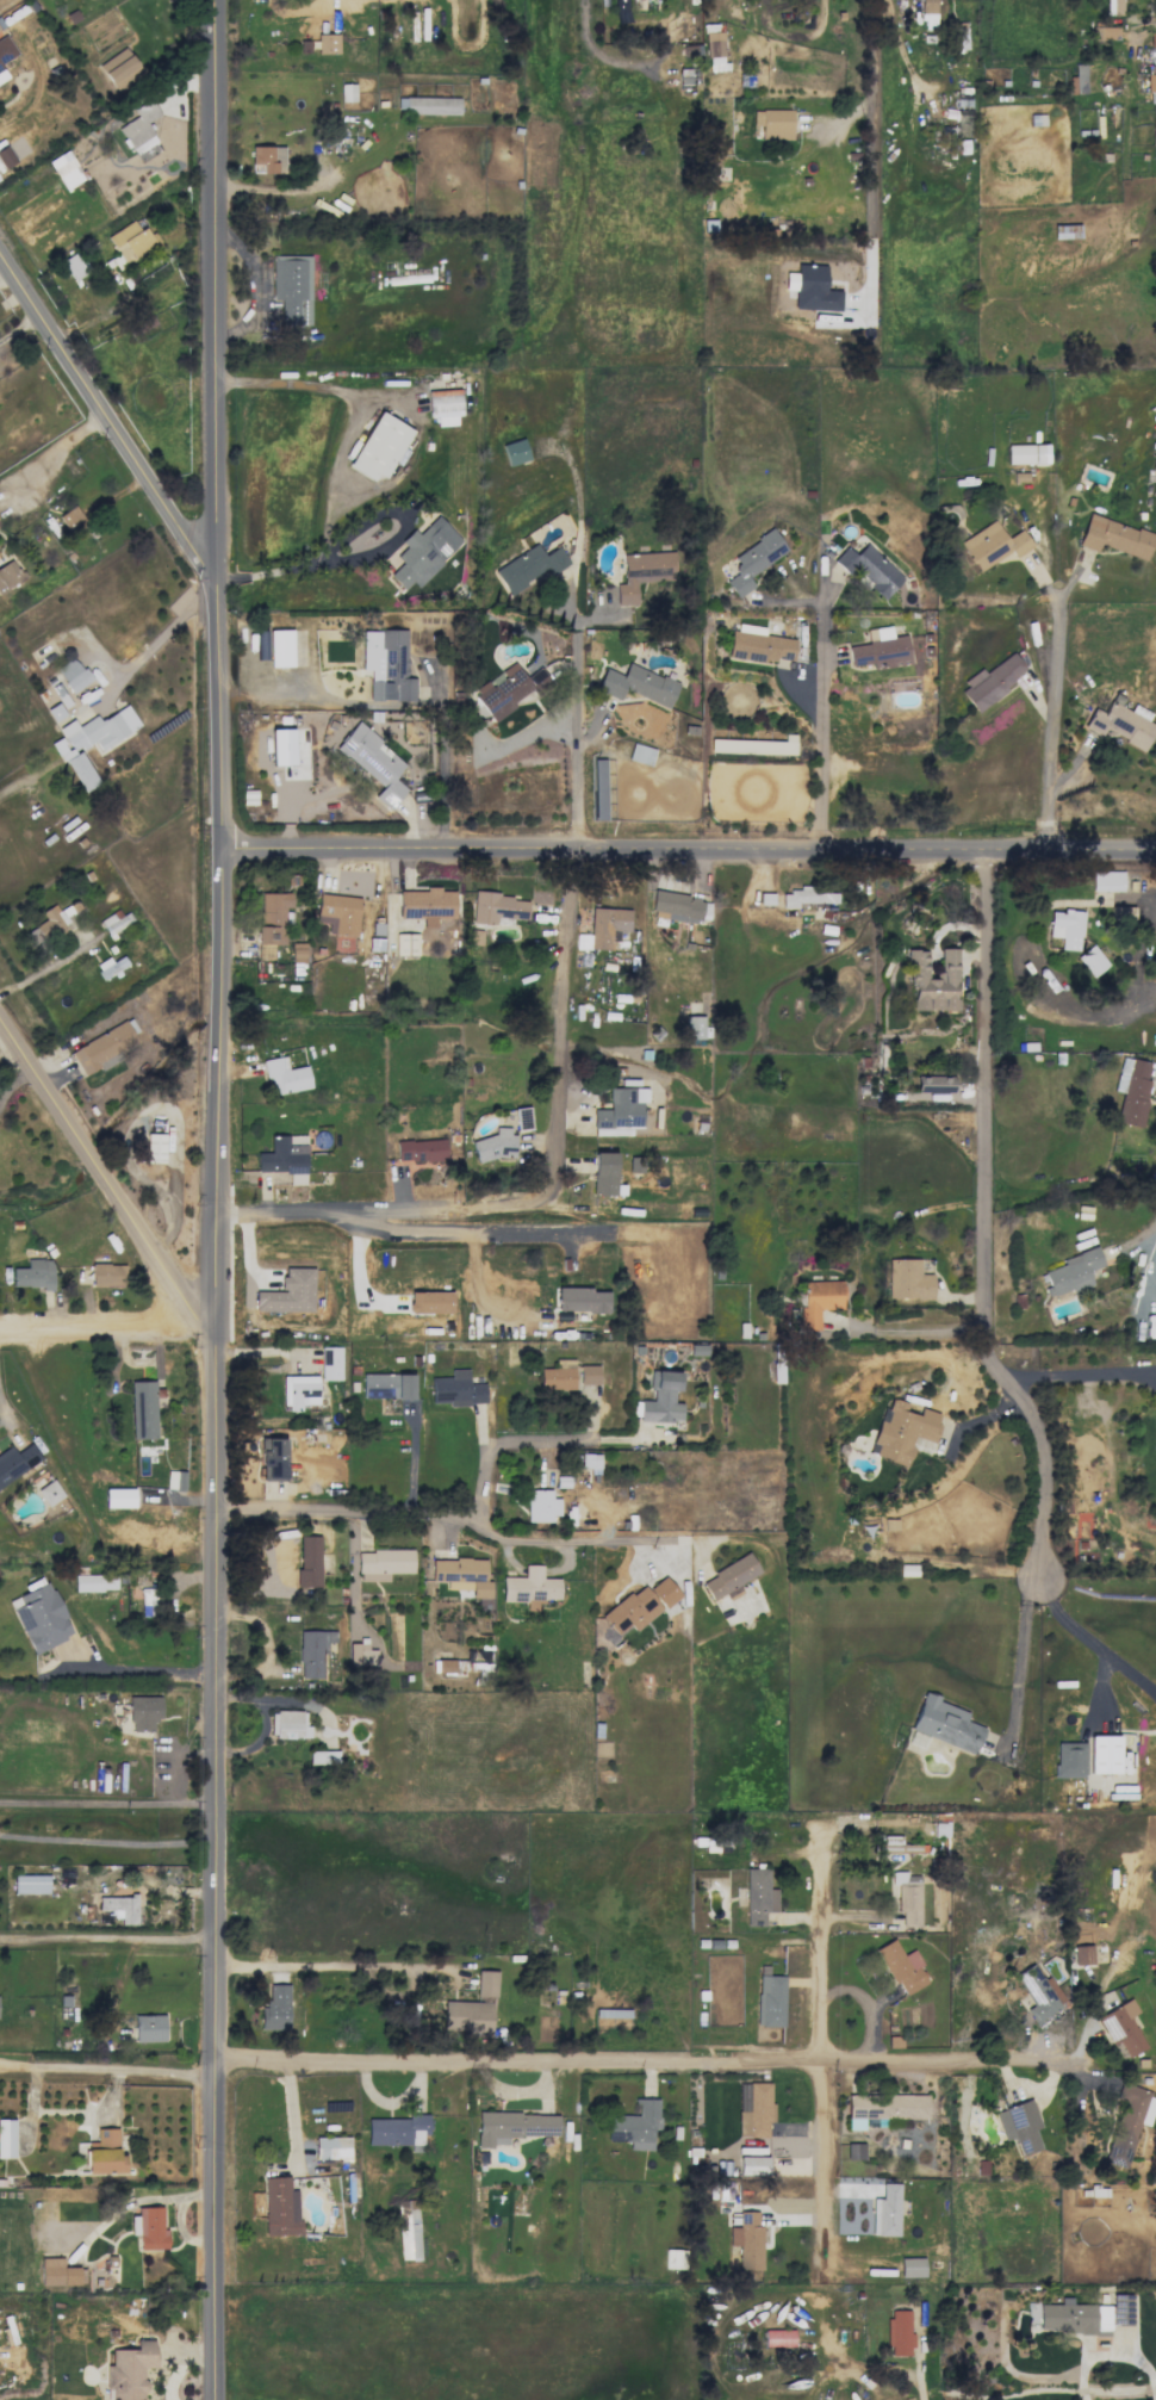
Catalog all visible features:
building: (1112, 7)
building: (927, 13)
building: (1105, 33)
building: (959, 38)
building: (1152, 39)
building: (327, 43)
building: (714, 46)
building: (5, 49)
building: (119, 68)
building: (1, 74)
building: (1077, 79)
building: (1151, 82)
building: (347, 92)
building: (427, 105)
building: (773, 123)
building: (139, 128)
road: (832, 138)
road: (871, 151)
building: (267, 159)
building: (66, 169)
road: (274, 190)
building: (73, 266)
building: (814, 290)
building: (292, 291)
road: (20, 325)
road: (312, 384)
building: (445, 407)
road: (107, 415)
building: (379, 447)
road: (61, 451)
building: (514, 452)
building: (1026, 454)
building: (1114, 537)
building: (993, 545)
building: (423, 552)
building: (753, 560)
building: (528, 566)
building: (868, 570)
building: (642, 572)
building: (8, 573)
road: (160, 637)
building: (759, 645)
building: (280, 647)
building: (878, 649)
building: (386, 664)
building: (73, 674)
building: (992, 681)
building: (636, 684)
building: (508, 689)
road: (1055, 702)
road: (822, 721)
building: (1120, 724)
road: (579, 733)
building: (91, 742)
building: (281, 746)
building: (640, 754)
building: (373, 762)
road: (443, 776)
road: (25, 777)
building: (597, 789)
road: (690, 851)
building: (1106, 880)
building: (807, 897)
building: (427, 905)
building: (676, 906)
building: (498, 907)
building: (1120, 912)
building: (338, 913)
building: (273, 917)
building: (54, 920)
building: (116, 922)
building: (607, 925)
building: (1065, 928)
building: (473, 936)
building: (405, 944)
building: (297, 953)
building: (1090, 960)
road: (46, 967)
building: (933, 981)
road: (559, 1022)
building: (694, 1027)
building: (105, 1047)
building: (285, 1075)
building: (934, 1084)
building: (1131, 1090)
building: (620, 1111)
building: (522, 1118)
building: (495, 1145)
building: (419, 1149)
building: (284, 1155)
building: (603, 1173)
road: (101, 1176)
road: (218, 1199)
road: (387, 1210)
road: (983, 1221)
road: (462, 1228)
building: (1069, 1273)
building: (33, 1275)
building: (107, 1275)
building: (907, 1279)
building: (288, 1292)
building: (582, 1300)
building: (818, 1301)
building: (429, 1302)
road: (95, 1325)
building: (330, 1363)
building: (588, 1373)
road: (1079, 1373)
building: (558, 1376)
building: (387, 1385)
building: (456, 1389)
building: (299, 1391)
building: (661, 1399)
building: (142, 1409)
building: (902, 1430)
road: (537, 1438)
building: (272, 1458)
building: (589, 1461)
building: (15, 1462)
building: (175, 1480)
building: (49, 1493)
building: (118, 1497)
building: (540, 1505)
road: (348, 1515)
road: (579, 1544)
building: (309, 1563)
building: (383, 1563)
building: (461, 1575)
building: (728, 1579)
building: (94, 1582)
building: (529, 1586)
building: (145, 1601)
building: (639, 1606)
building: (39, 1617)
road: (1088, 1639)
building: (312, 1651)
building: (360, 1654)
road: (1018, 1658)
road: (135, 1670)
building: (143, 1712)
building: (944, 1723)
building: (288, 1724)
building: (1104, 1754)
building: (323, 1757)
building: (1069, 1759)
road: (108, 1803)
road: (108, 1841)
building: (899, 1846)
building: (30, 1884)
building: (758, 1896)
building: (907, 1897)
building: (119, 1908)
road: (108, 1941)
building: (1082, 1952)
road: (336, 1960)
building: (901, 1967)
building: (485, 1984)
building: (1039, 1992)
building: (770, 2001)
building: (275, 2008)
building: (611, 2013)
building: (467, 2017)
building: (148, 2027)
building: (1121, 2029)
road: (825, 2058)
road: (646, 2066)
road: (108, 2070)
building: (753, 2108)
building: (884, 2108)
building: (1129, 2123)
building: (635, 2125)
building: (1019, 2126)
building: (512, 2127)
building: (397, 2131)
building: (6, 2138)
building: (331, 2147)
building: (854, 2151)
building: (752, 2165)
building: (279, 2207)
building: (885, 2210)
building: (148, 2227)
building: (408, 2230)
building: (746, 2239)
building: (910, 2266)
building: (58, 2272)
building: (899, 2332)
building: (778, 2338)
road: (913, 2359)
building: (130, 2370)

